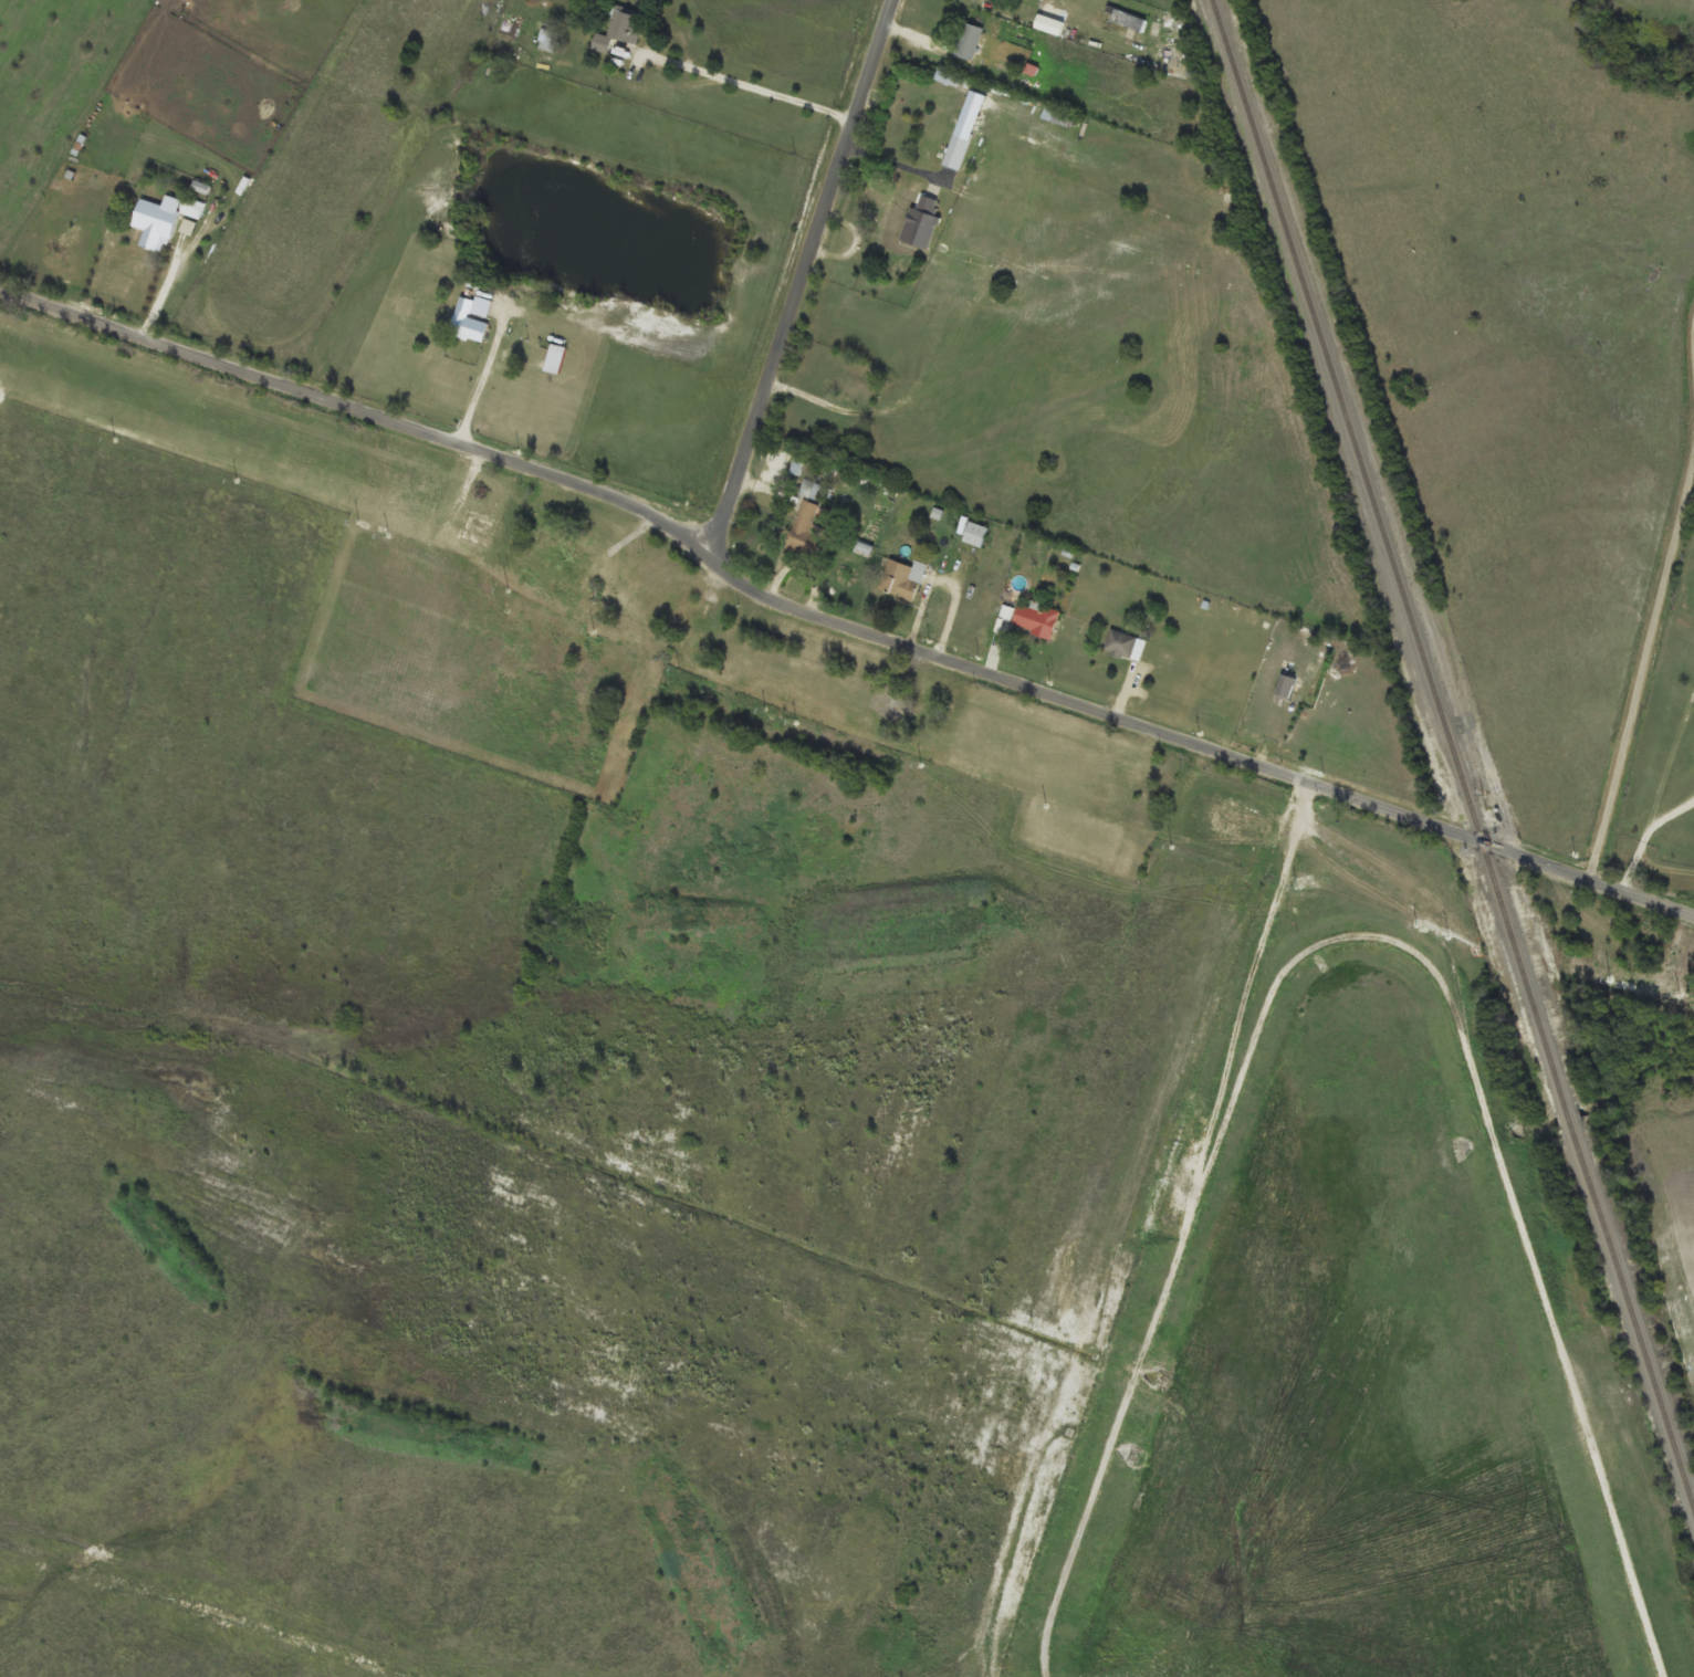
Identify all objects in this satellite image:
building: (993, 0)
building: (620, 29)
building: (969, 41)
road: (750, 87)
building: (966, 125)
building: (956, 151)
building: (895, 219)
building: (156, 223)
road: (797, 277)
building: (468, 323)
building: (555, 359)
road: (481, 384)
building: (848, 389)
building: (812, 490)
building: (808, 532)
building: (976, 535)
building: (564, 546)
building: (903, 579)
building: (602, 588)
road: (1656, 598)
building: (1036, 619)
road: (834, 627)
building: (1126, 646)
building: (603, 681)
building: (1286, 686)
building: (631, 723)
railway: (1453, 748)
road: (1669, 768)
building: (1139, 772)
road: (1646, 839)

